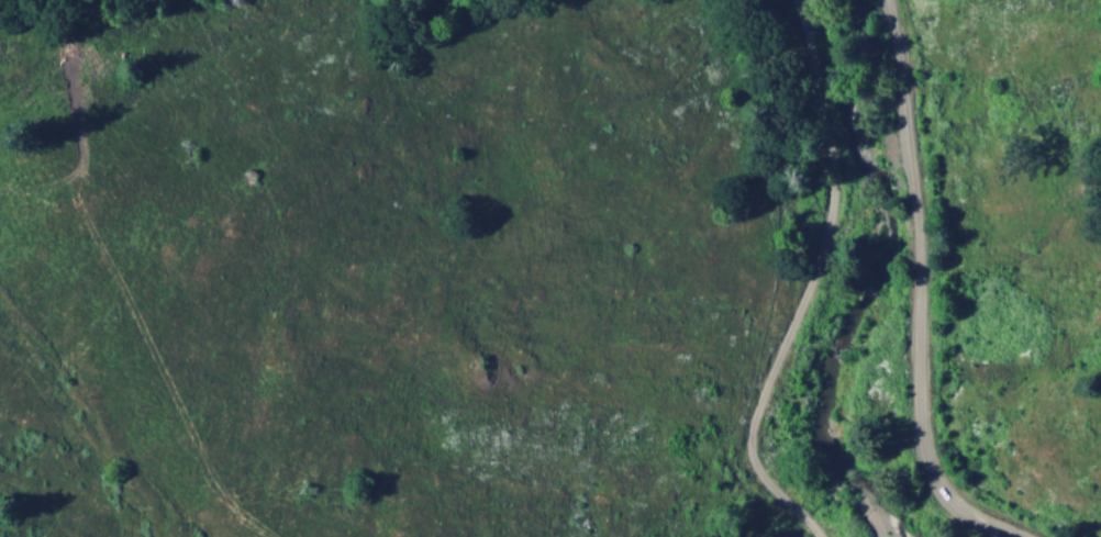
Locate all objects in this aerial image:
road: (805, 283)
road: (917, 293)

